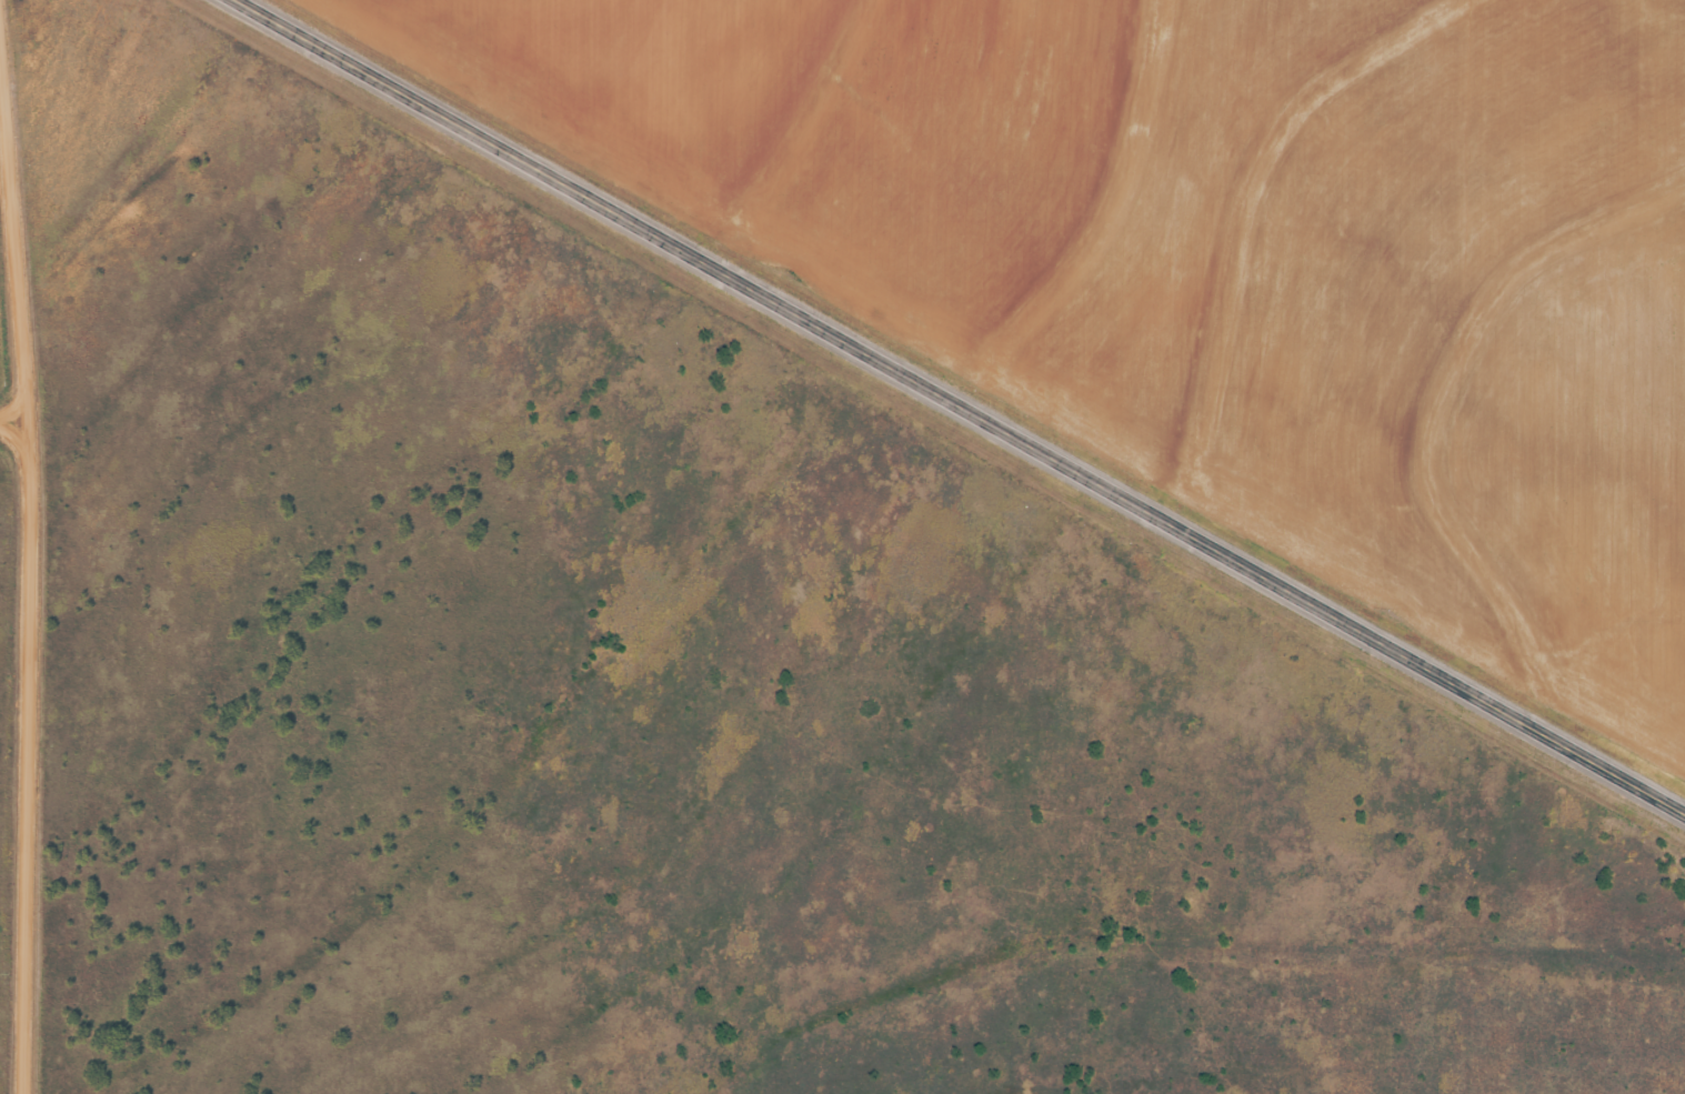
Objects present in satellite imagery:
road: (961, 405)
road: (16, 412)
road: (34, 545)
road: (1434, 900)

